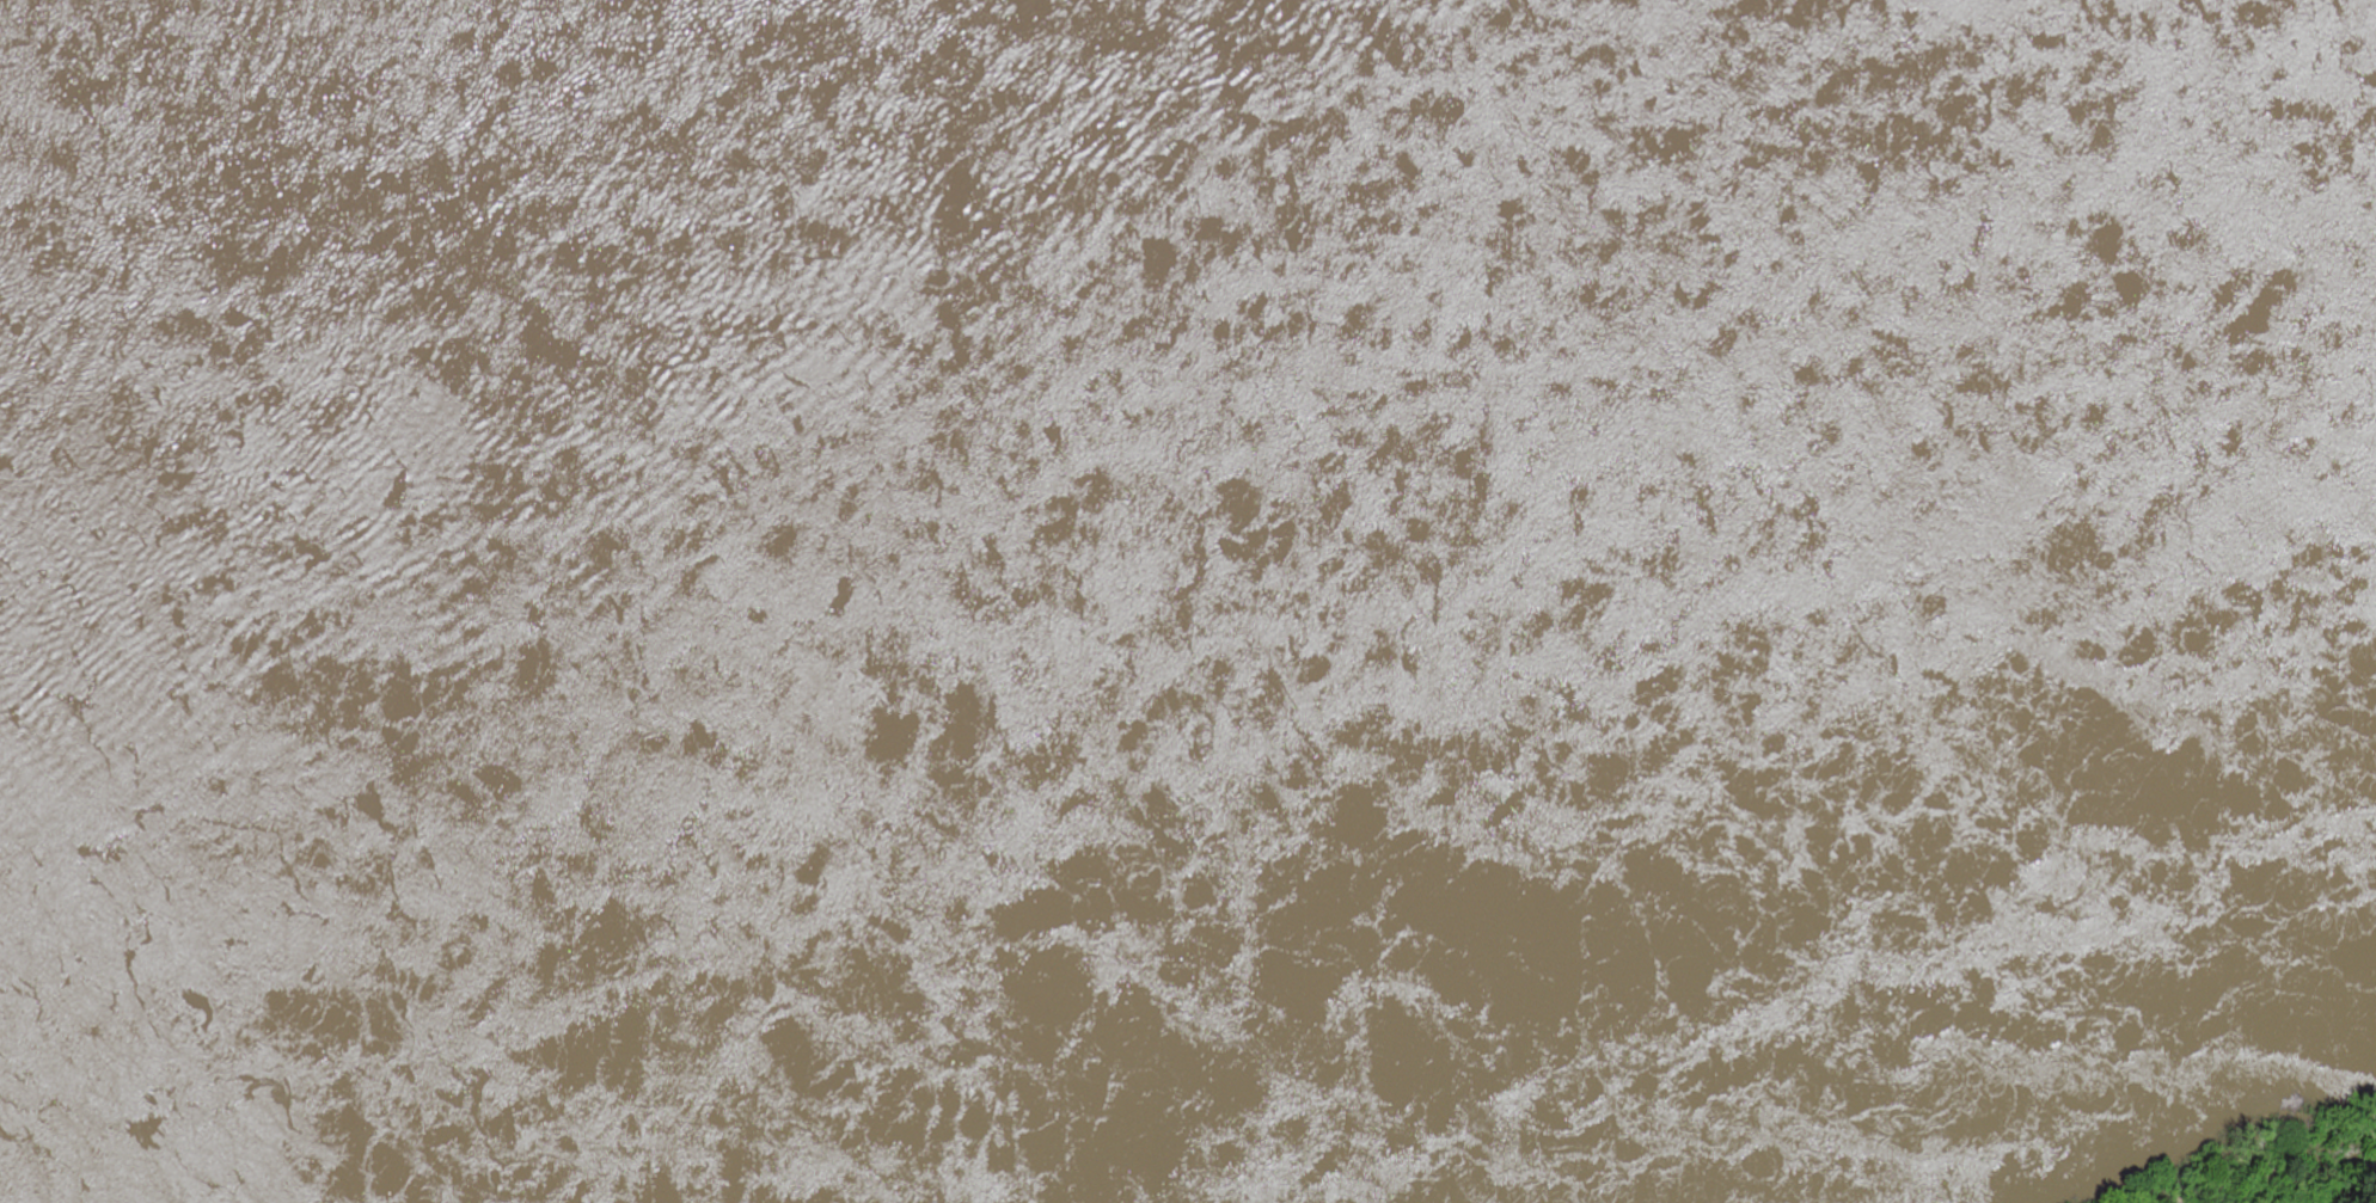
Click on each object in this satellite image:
river: (1188, 160)

